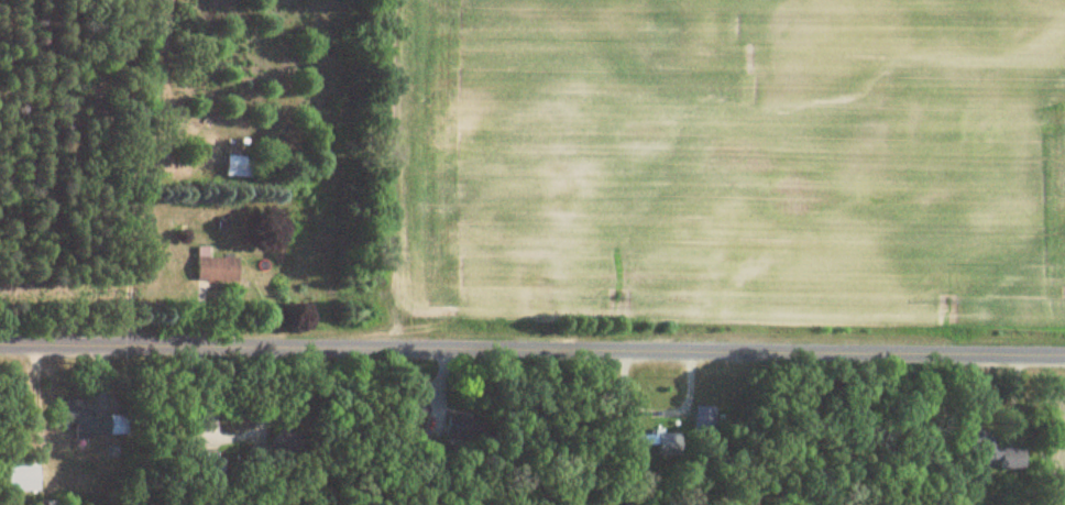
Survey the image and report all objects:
building: (240, 166)
building: (217, 268)
road: (532, 344)
road: (655, 410)
building: (705, 419)
building: (92, 421)
building: (661, 442)
building: (1010, 459)
building: (211, 471)
building: (23, 477)

